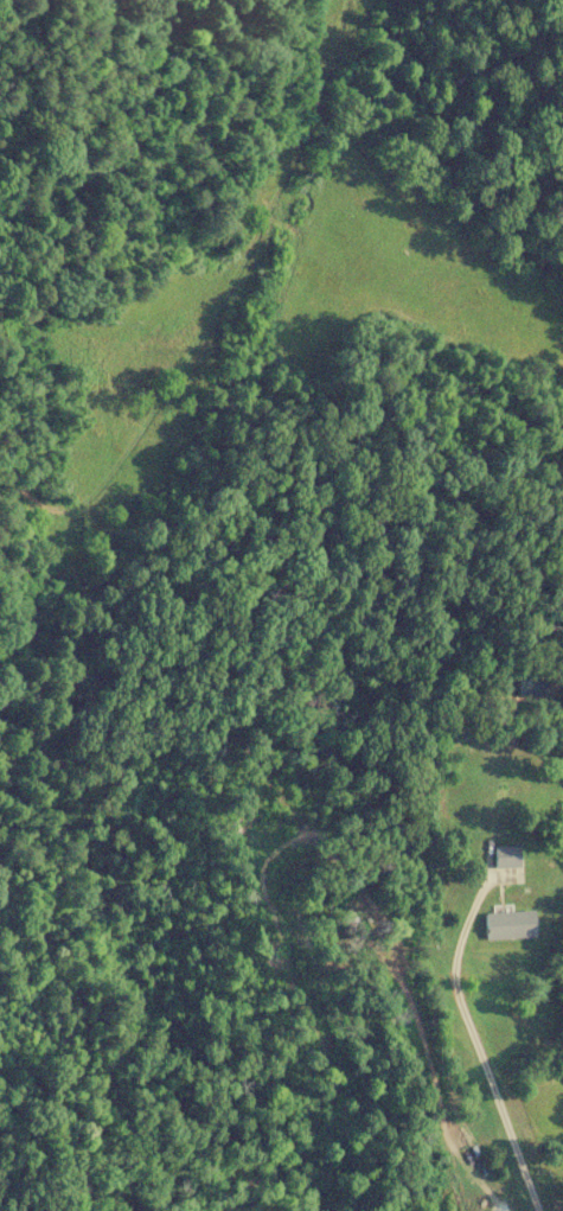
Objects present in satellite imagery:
building: (511, 856)
building: (512, 925)
road: (472, 1045)
road: (427, 1050)

